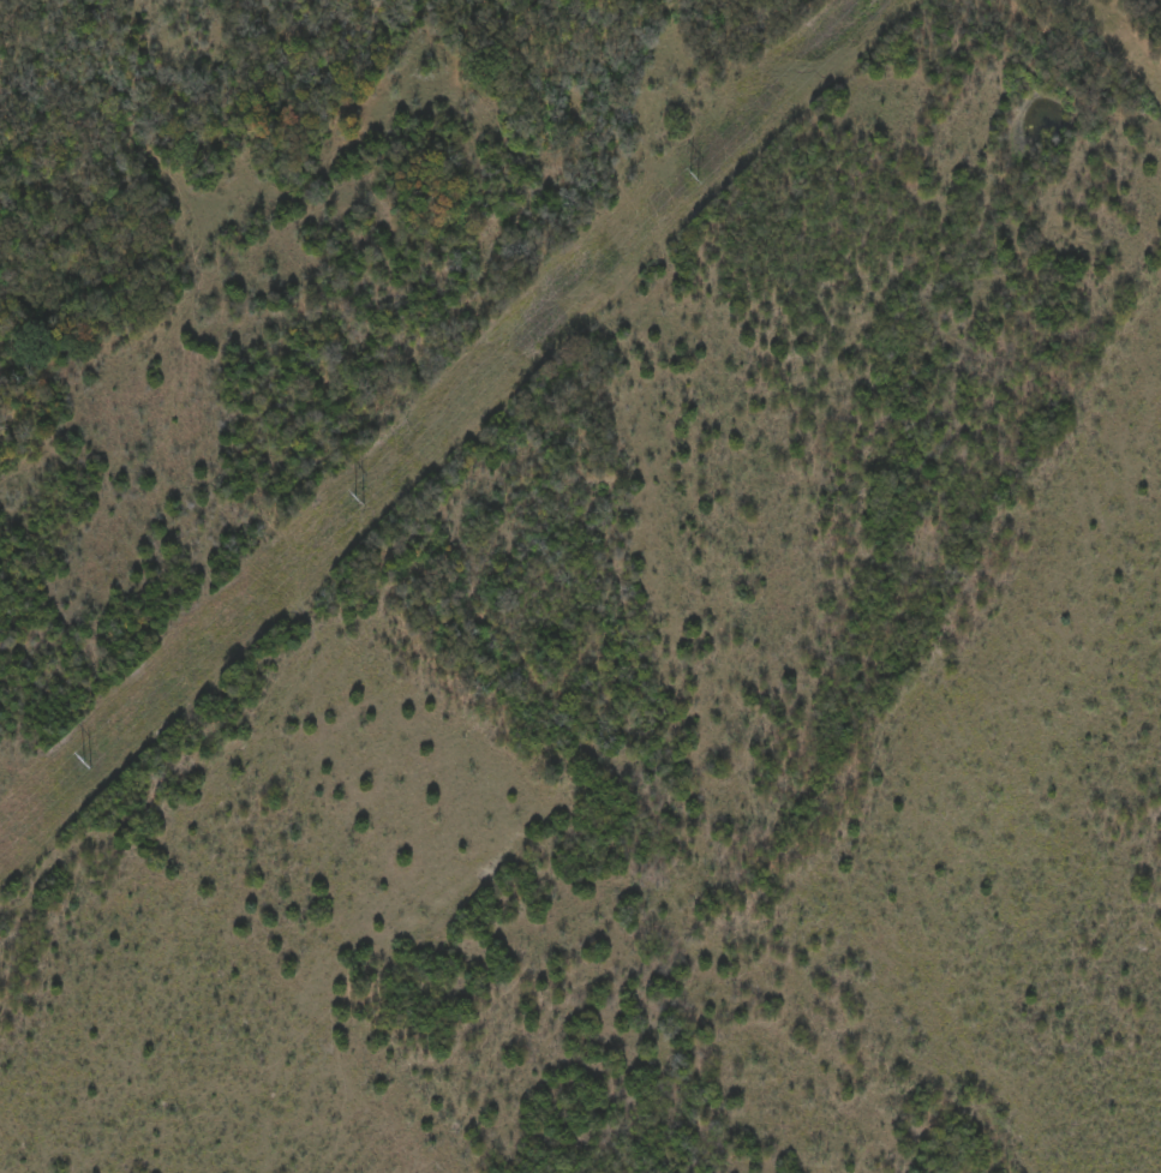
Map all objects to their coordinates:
power tower: (698, 181)
power tower: (361, 504)
power tower: (92, 762)

